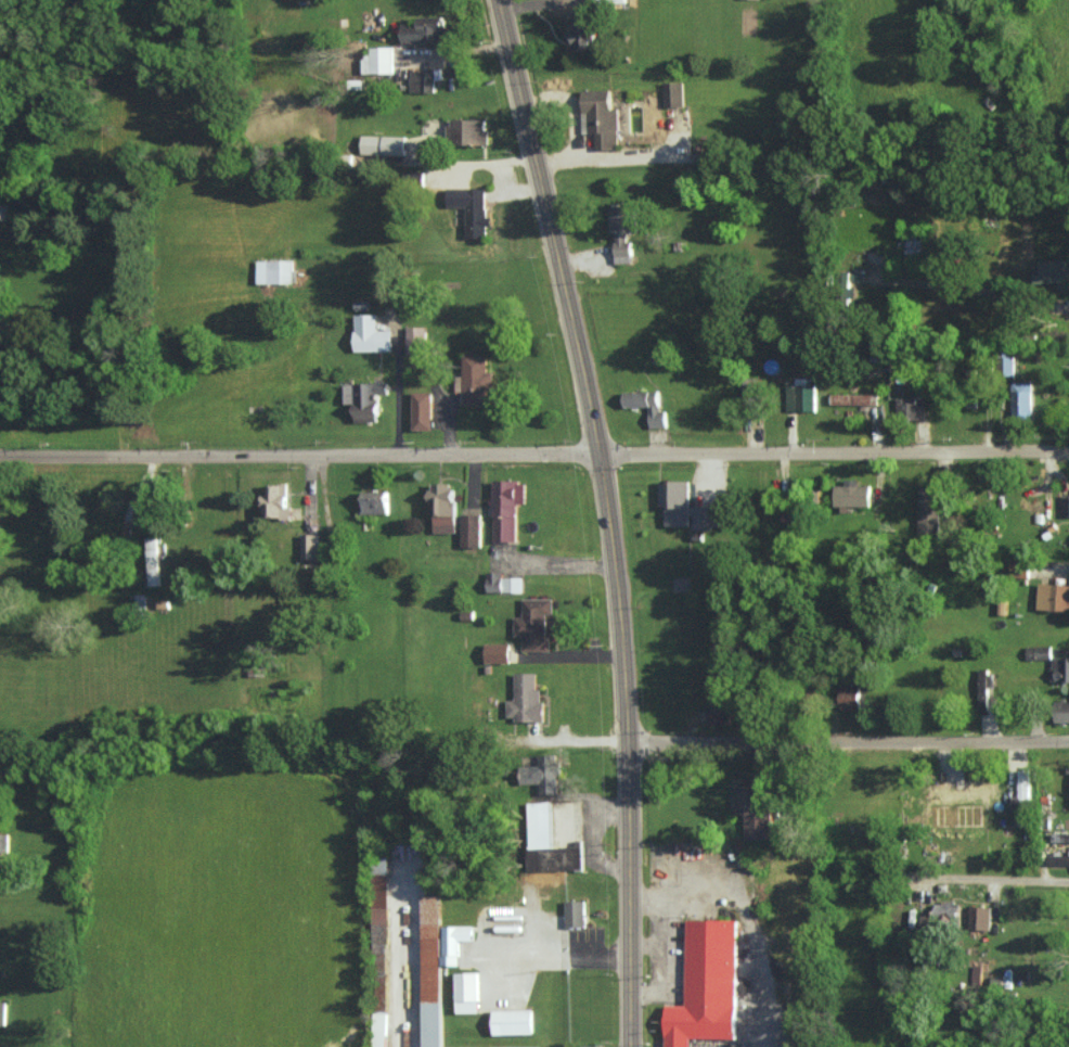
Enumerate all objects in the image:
building: (606, 1)
building: (424, 30)
building: (580, 34)
building: (377, 61)
building: (421, 81)
building: (672, 93)
building: (600, 118)
building: (466, 131)
building: (382, 144)
building: (469, 208)
building: (621, 230)
building: (274, 271)
building: (1052, 271)
road: (989, 291)
building: (371, 335)
building: (416, 341)
building: (1006, 366)
building: (477, 380)
building: (800, 397)
building: (853, 398)
building: (1021, 398)
building: (365, 400)
building: (646, 406)
building: (909, 409)
building: (423, 411)
road: (305, 459)
road: (839, 462)
building: (851, 494)
building: (375, 502)
building: (276, 503)
building: (1065, 505)
building: (682, 507)
building: (443, 508)
building: (507, 509)
building: (929, 510)
road: (618, 518)
building: (472, 532)
building: (310, 547)
building: (152, 561)
building: (505, 584)
building: (1053, 597)
building: (138, 600)
building: (468, 616)
building: (534, 625)
building: (1038, 652)
building: (499, 653)
building: (1059, 669)
building: (984, 688)
building: (848, 697)
building: (526, 698)
building: (718, 710)
building: (1061, 711)
road: (854, 748)
building: (541, 774)
building: (1021, 793)
building: (977, 802)
building: (945, 804)
building: (751, 812)
building: (548, 832)
building: (1060, 837)
building: (3, 842)
building: (1057, 859)
road: (981, 883)
building: (576, 914)
building: (979, 916)
building: (455, 943)
road: (665, 943)
building: (382, 953)
building: (433, 970)
building: (977, 973)
building: (707, 986)
building: (468, 993)
building: (2, 1011)
building: (513, 1022)
building: (510, 1046)

